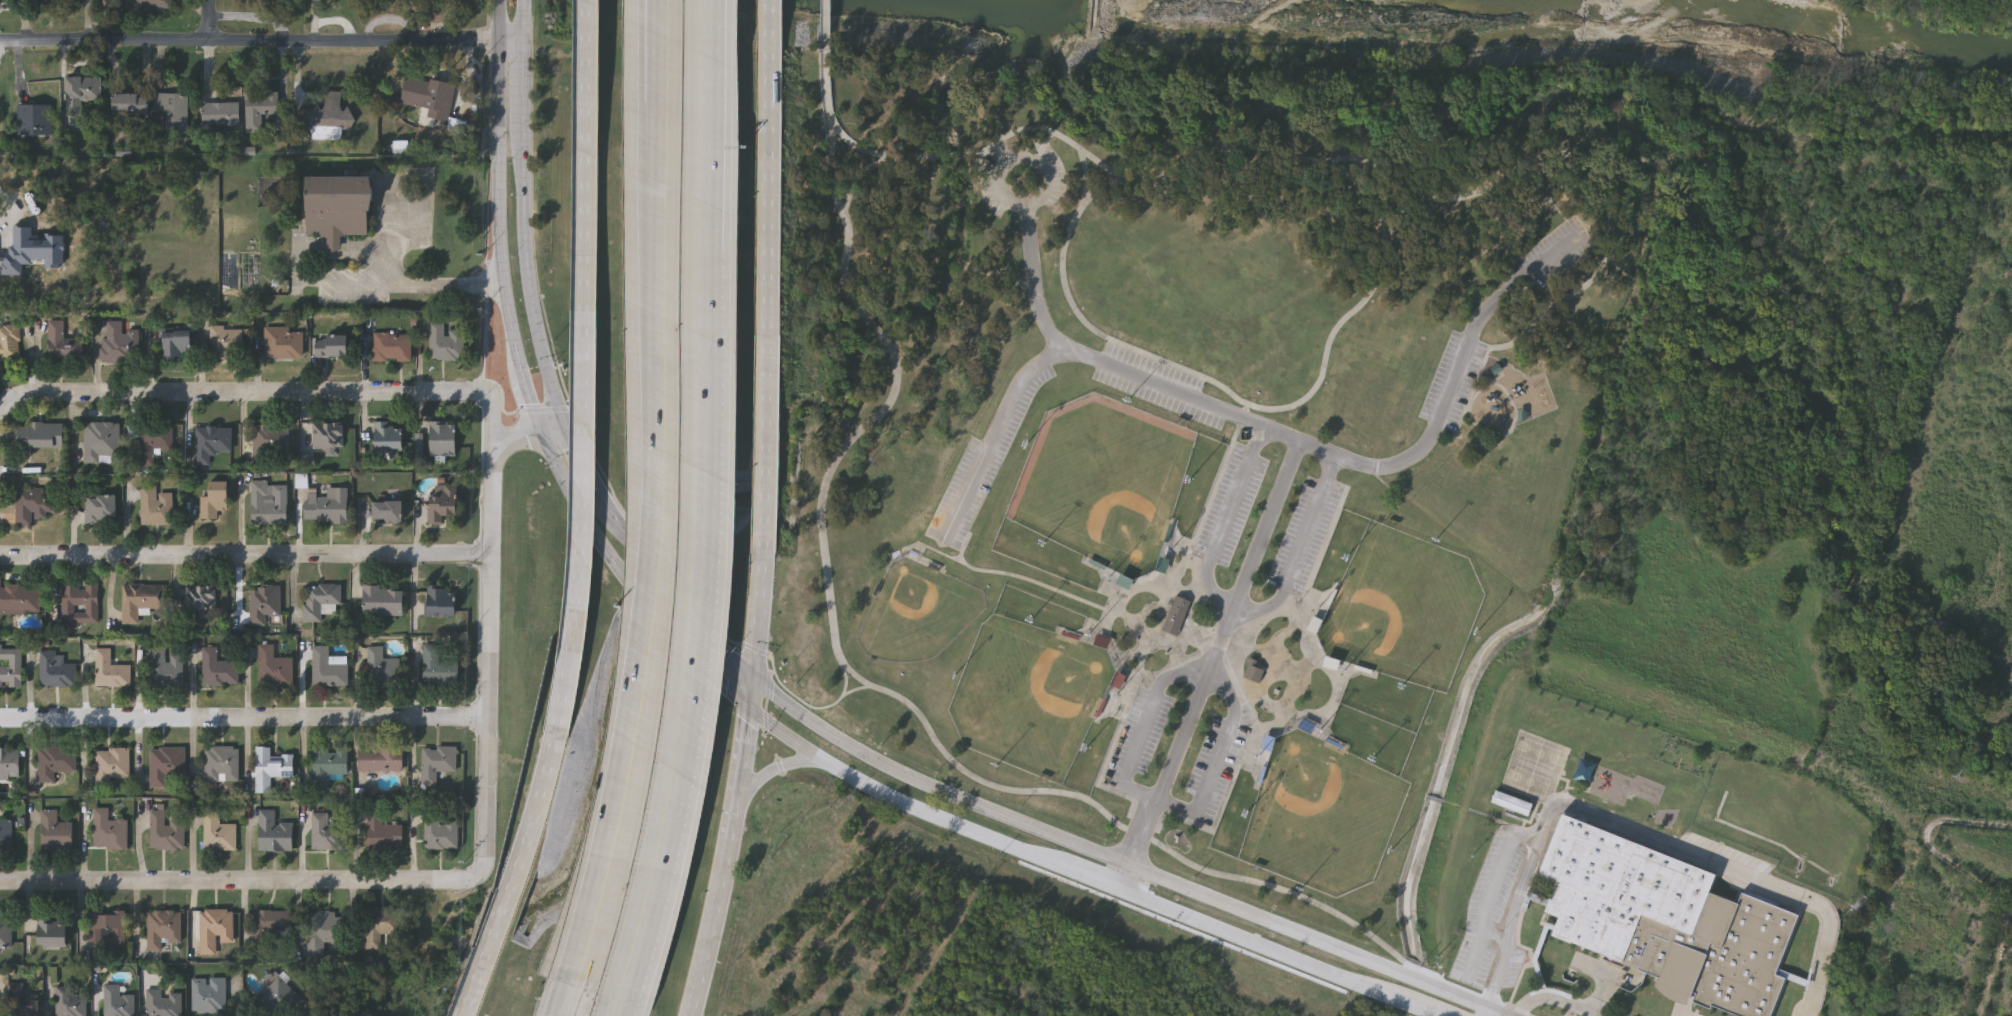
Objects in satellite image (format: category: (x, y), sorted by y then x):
building: (145, 3)
road: (826, 17)
dam: (1095, 18)
road: (525, 19)
road: (210, 21)
road: (262, 44)
road: (712, 64)
road: (721, 64)
road: (653, 79)
road: (827, 79)
road: (524, 82)
building: (84, 91)
building: (430, 97)
building: (157, 108)
building: (260, 108)
building: (221, 115)
building: (37, 117)
building: (332, 117)
road: (1049, 131)
road: (881, 155)
road: (953, 156)
road: (1086, 175)
road: (497, 185)
road: (1604, 188)
building: (338, 208)
road: (1399, 216)
road: (845, 222)
road: (711, 235)
building: (32, 252)
parking lot: (1546, 261)
road: (1032, 268)
road: (771, 274)
road: (528, 278)
road: (413, 284)
road: (872, 325)
building: (9, 344)
building: (62, 344)
building: (176, 344)
building: (225, 344)
building: (284, 344)
building: (445, 344)
building: (119, 345)
building: (333, 348)
building: (392, 349)
road: (592, 364)
road: (1184, 368)
parking lot: (1453, 384)
road: (273, 397)
road: (531, 402)
road: (5, 409)
road: (1245, 412)
traffic signals: (568, 427)
road: (1264, 429)
road: (554, 431)
park: (1191, 435)
building: (39, 436)
traffic signals: (540, 436)
building: (329, 437)
building: (390, 438)
building: (444, 441)
building: (100, 444)
building: (151, 444)
building: (212, 444)
building: (271, 444)
road: (516, 444)
road: (583, 460)
park: (1103, 482)
road: (664, 490)
building: (215, 502)
building: (444, 503)
building: (269, 504)
building: (30, 505)
building: (327, 506)
building: (155, 508)
parking lot: (1231, 509)
building: (100, 510)
building: (388, 513)
road: (584, 521)
parking lot: (1304, 538)
road: (243, 556)
road: (702, 556)
building: (20, 600)
building: (320, 601)
building: (139, 602)
building: (200, 602)
building: (384, 602)
building: (442, 603)
road: (1235, 605)
building: (80, 608)
building: (266, 608)
park: (1402, 609)
park: (917, 612)
building: (1175, 617)
building: (1939, 627)
road: (754, 629)
road: (690, 657)
road: (1210, 666)
road: (486, 667)
building: (11, 668)
road: (1212, 668)
building: (166, 669)
building: (329, 669)
building: (382, 669)
building: (439, 669)
building: (218, 670)
building: (275, 670)
building: (55, 671)
building: (110, 671)
building: (1253, 673)
traffic signals: (750, 675)
building: (1116, 683)
park: (1029, 696)
traffic signals: (747, 710)
road: (242, 720)
parking lot: (1138, 740)
road: (853, 746)
building: (381, 761)
building: (437, 763)
building: (55, 764)
building: (10, 765)
building: (222, 766)
building: (328, 766)
building: (111, 767)
building: (168, 768)
building: (271, 770)
road: (767, 773)
parking lot: (1212, 773)
building: (1583, 773)
building: (1963, 778)
road: (990, 784)
road: (901, 800)
building: (1511, 805)
park: (1322, 816)
building: (442, 831)
building: (110, 832)
building: (328, 833)
building: (56, 834)
building: (166, 834)
building: (219, 834)
building: (275, 834)
building: (382, 834)
road: (1637, 834)
building: (6, 836)
road: (723, 864)
road: (519, 872)
road: (656, 880)
road: (1094, 881)
road: (234, 883)
road: (1494, 893)
road: (1151, 903)
parking lot: (1491, 905)
building: (1663, 920)
building: (270, 924)
building: (381, 927)
building: (107, 929)
building: (162, 930)
building: (215, 930)
building: (324, 932)
building: (6, 934)
building: (54, 935)
road: (1495, 939)
road: (1347, 951)
road: (1294, 960)
road: (1992, 967)
road: (570, 993)
building: (209, 996)
building: (289, 997)
road: (1557, 1001)
building: (71, 1002)
building: (118, 1003)
road: (627, 1003)
building: (163, 1004)
building: (24, 1006)
road: (1422, 1010)

